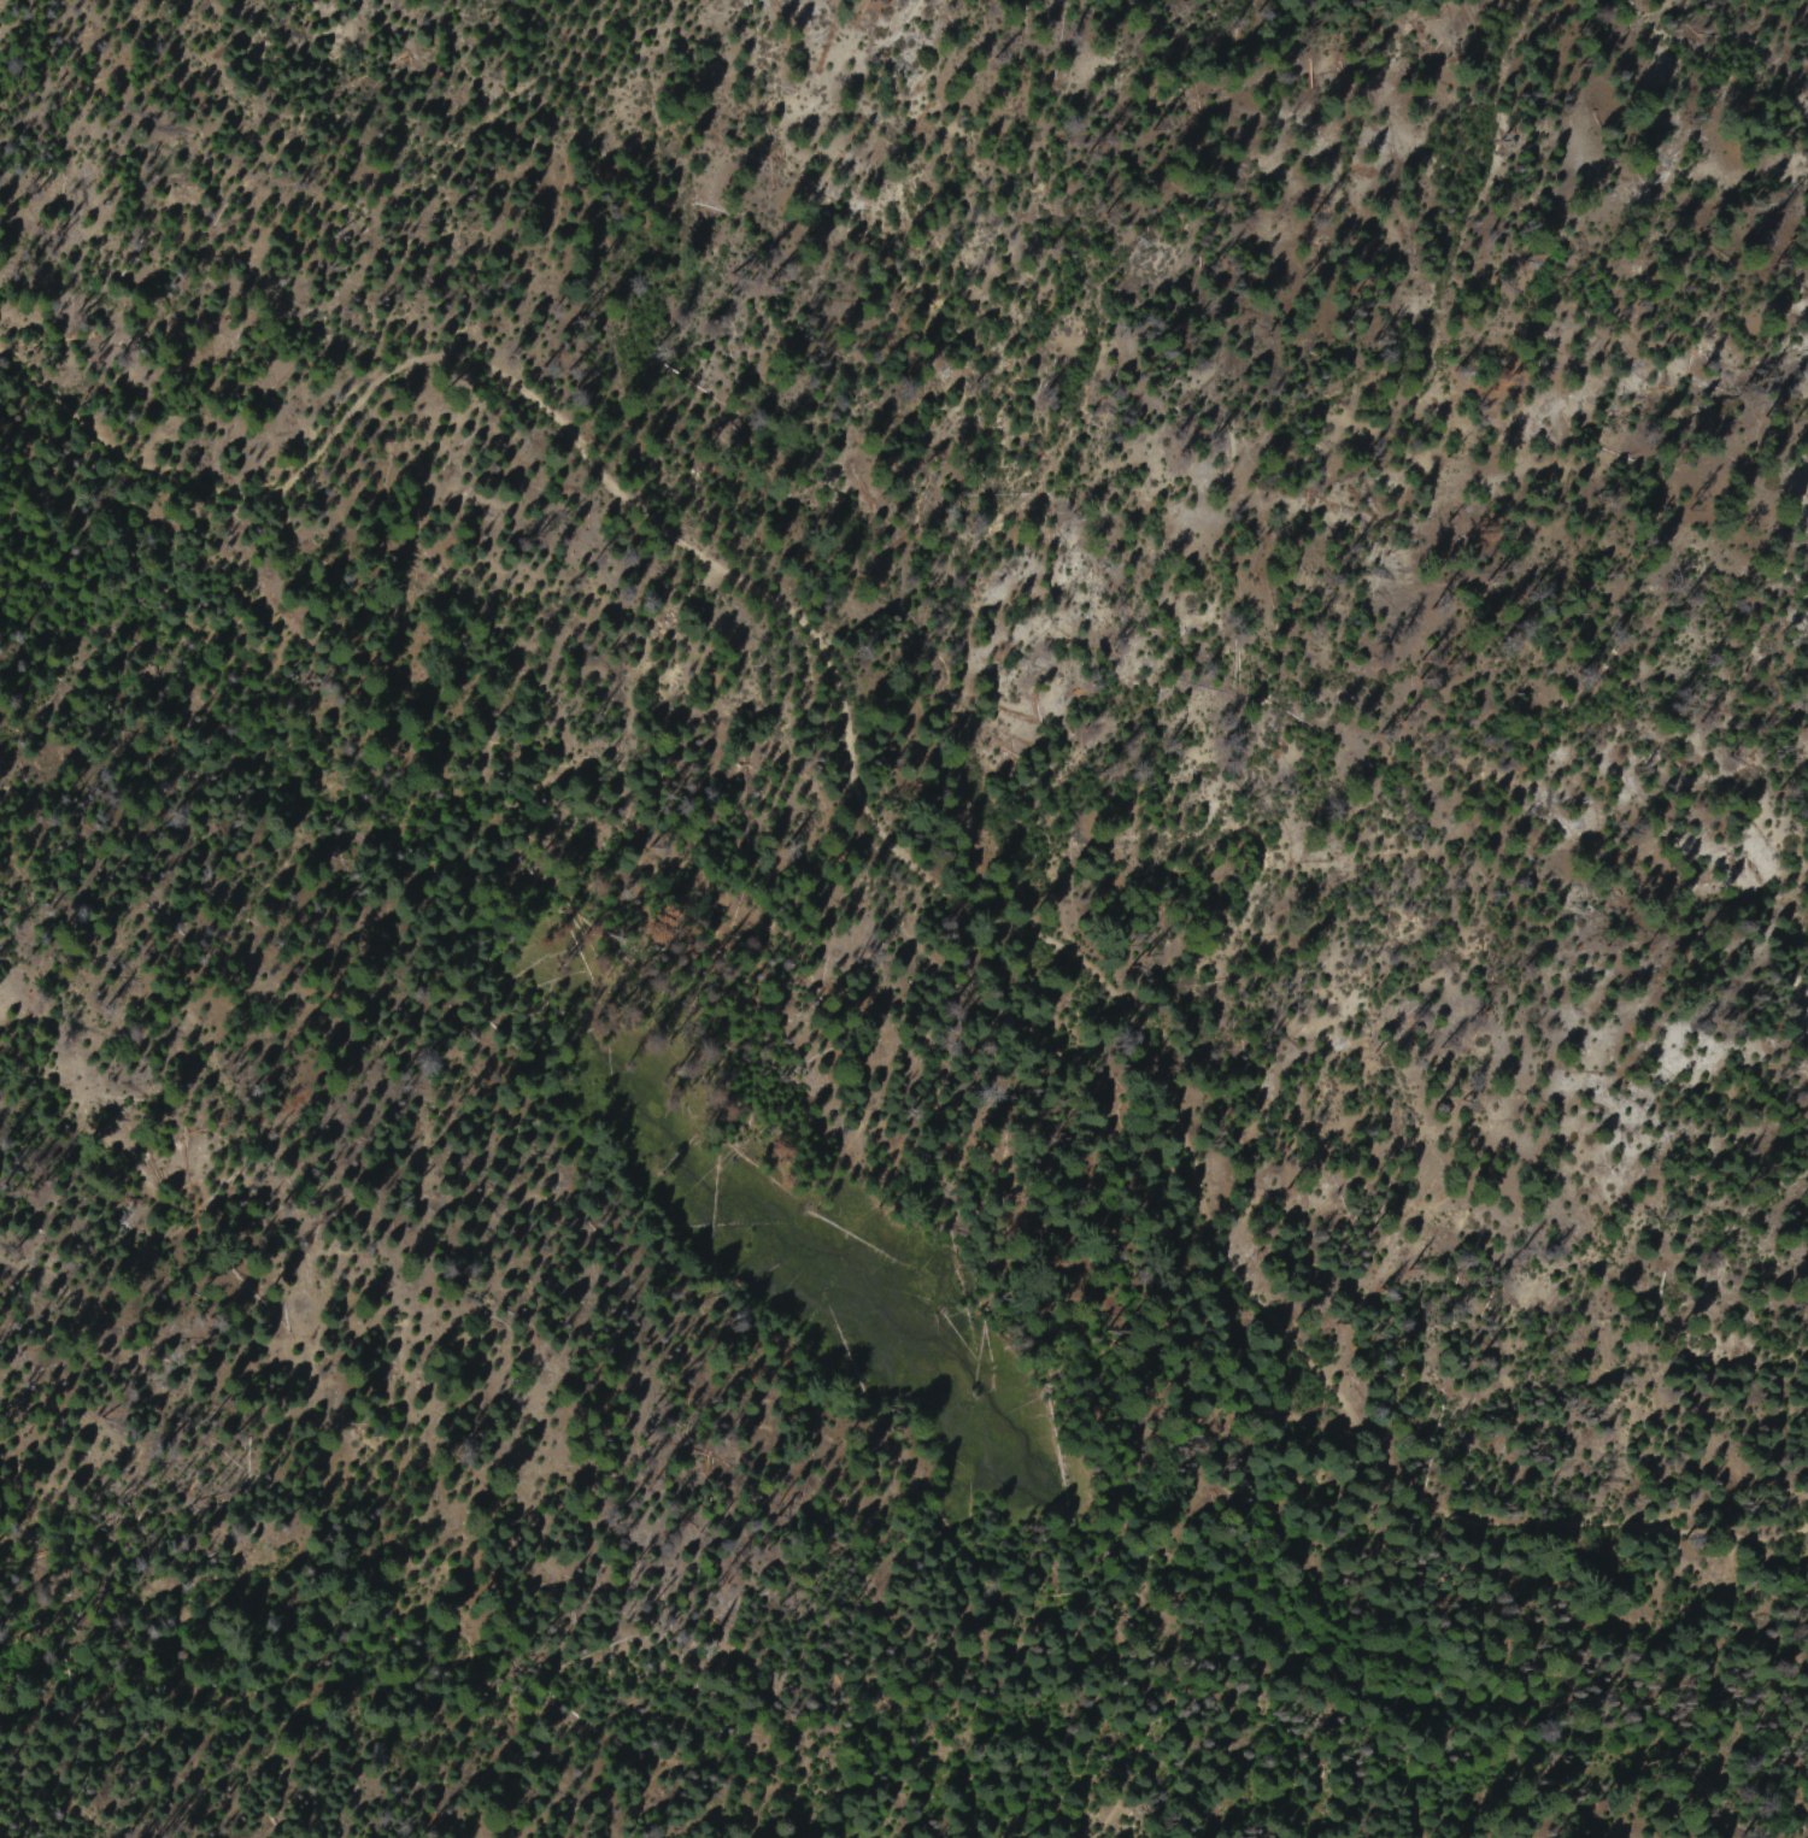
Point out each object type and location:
road: (897, 861)

